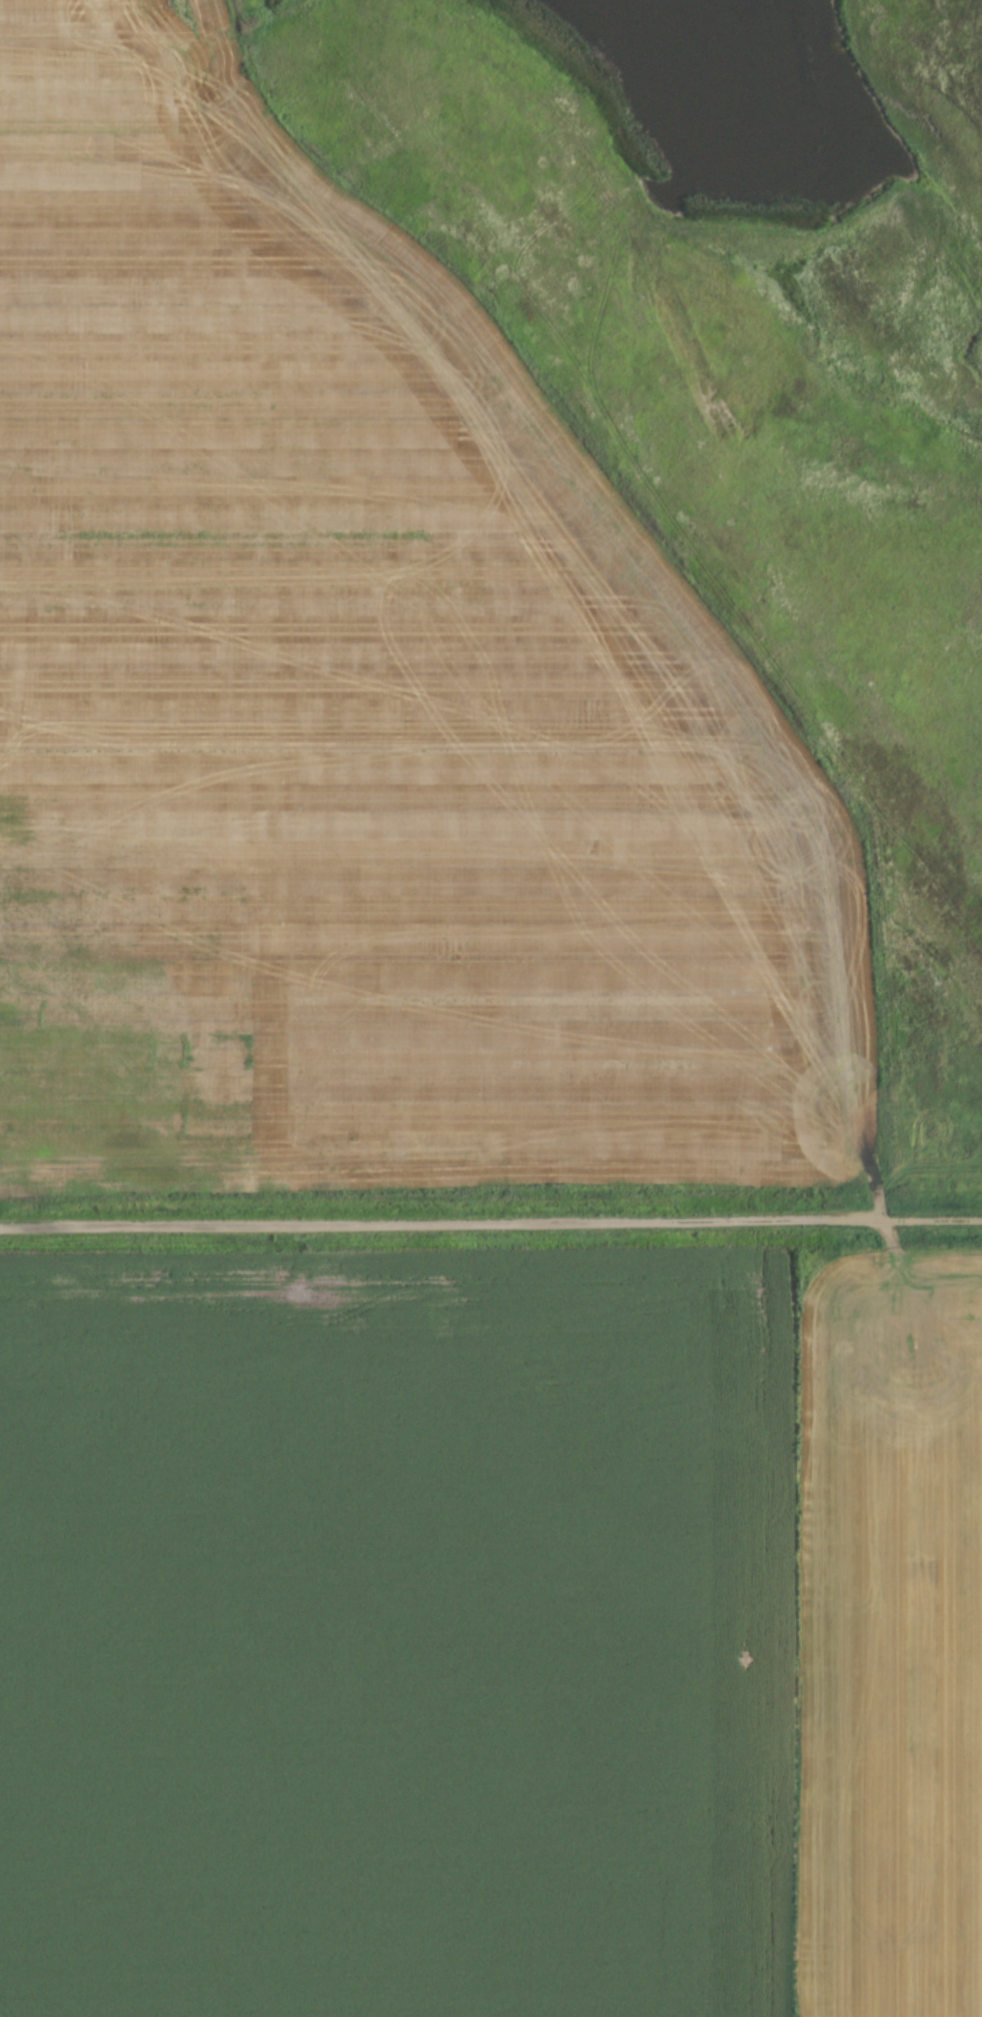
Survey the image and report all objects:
road: (491, 1220)
road: (925, 1313)
crop: (889, 1635)

